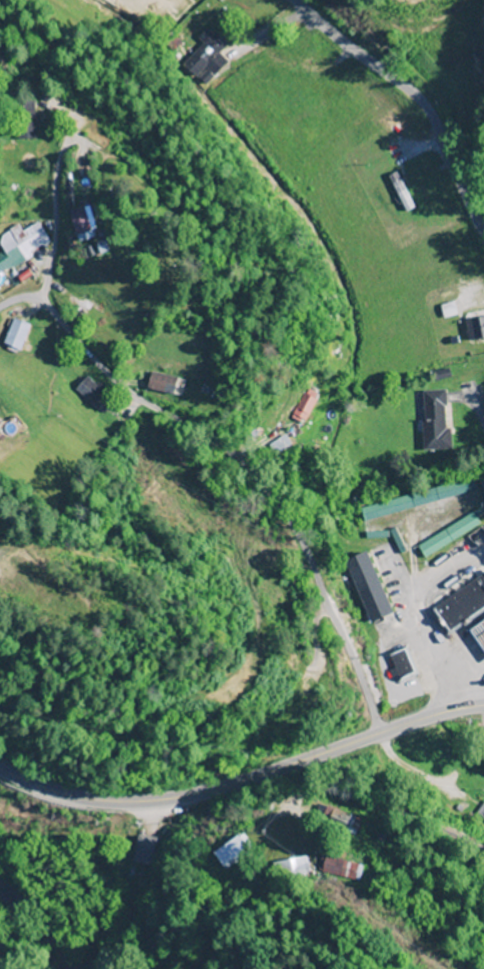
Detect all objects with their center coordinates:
building: (175, 6)
road: (415, 104)
building: (23, 127)
building: (423, 165)
building: (400, 192)
road: (57, 199)
building: (76, 222)
park: (155, 233)
building: (19, 242)
building: (437, 290)
road: (23, 292)
building: (474, 327)
building: (13, 334)
building: (162, 384)
building: (433, 420)
road: (268, 472)
building: (426, 516)
building: (365, 587)
building: (460, 605)
building: (478, 635)
building: (403, 665)
road: (243, 782)
building: (329, 817)
building: (142, 851)
building: (227, 851)
building: (288, 868)
building: (332, 869)
road: (161, 889)
river: (47, 912)

